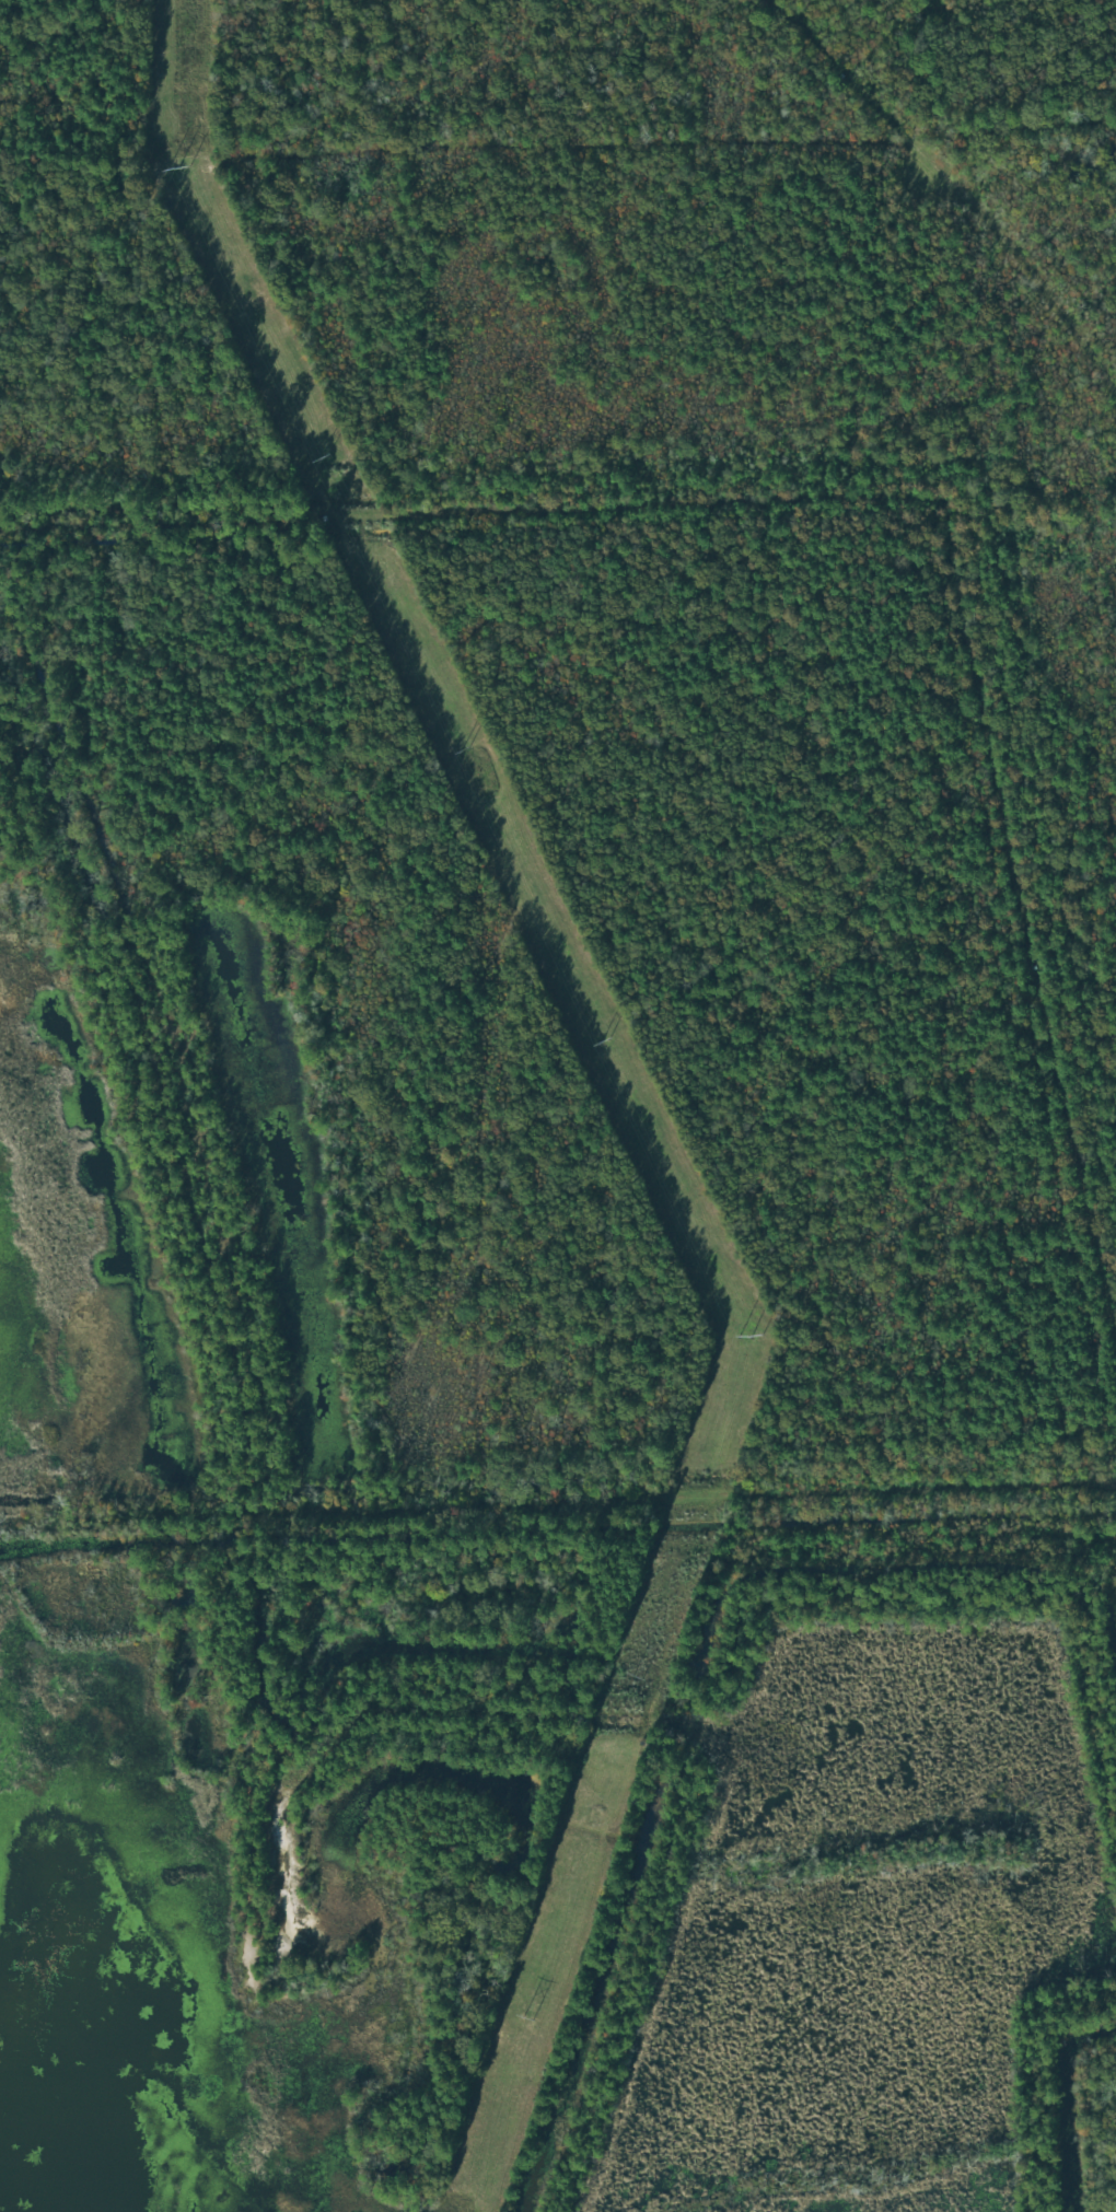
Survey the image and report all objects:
road: (945, 186)
road: (923, 1501)

